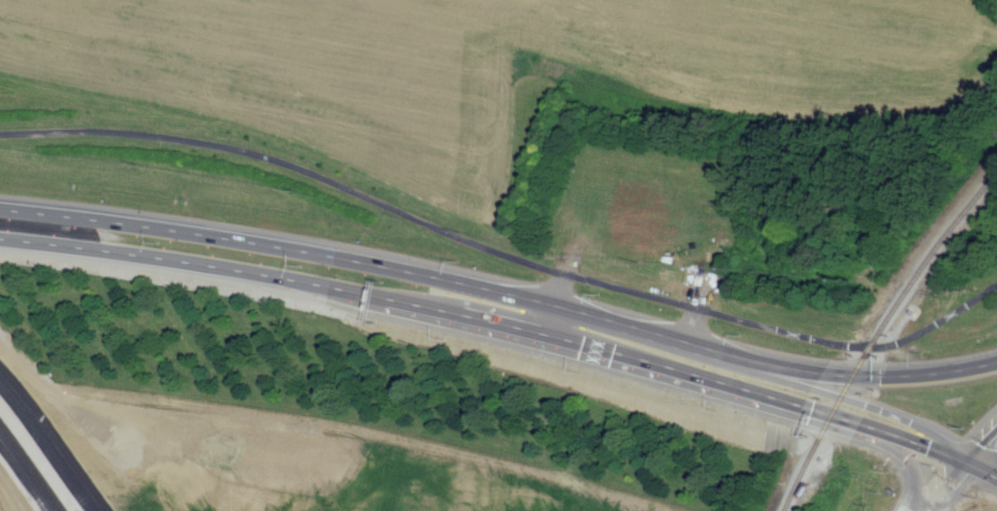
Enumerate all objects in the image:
road: (501, 253)
railway: (877, 334)
road: (978, 438)
road: (51, 441)
road: (28, 471)
road: (938, 483)

